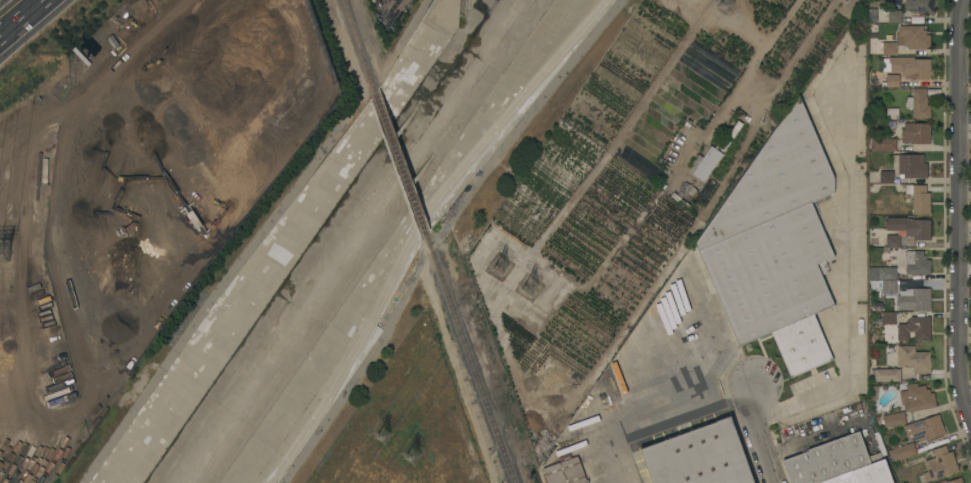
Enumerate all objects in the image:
power tower: (727, 4)
building: (920, 6)
road: (16, 15)
building: (894, 16)
building: (913, 37)
railway: (360, 45)
railway: (347, 46)
building: (890, 48)
road: (129, 51)
building: (911, 67)
building: (893, 80)
building: (919, 103)
building: (892, 113)
building: (913, 132)
building: (728, 137)
building: (884, 145)
building: (706, 163)
railway: (401, 164)
building: (912, 165)
railway: (391, 169)
building: (886, 176)
building: (688, 189)
road: (716, 193)
building: (919, 198)
road: (957, 209)
road: (415, 226)
building: (910, 227)
river: (352, 241)
building: (893, 241)
building: (776, 245)
building: (917, 262)
power tower: (499, 263)
road: (851, 269)
building: (888, 272)
road: (410, 277)
power tower: (527, 285)
building: (874, 285)
building: (921, 296)
building: (888, 317)
building: (915, 328)
building: (914, 358)
railway: (470, 360)
railway: (461, 364)
building: (887, 374)
building: (917, 397)
building: (894, 419)
building: (925, 429)
road: (756, 432)
power tower: (383, 436)
building: (902, 451)
power tower: (412, 456)
building: (699, 456)
building: (828, 459)
building: (940, 464)
building: (565, 472)
building: (865, 474)
building: (955, 480)

